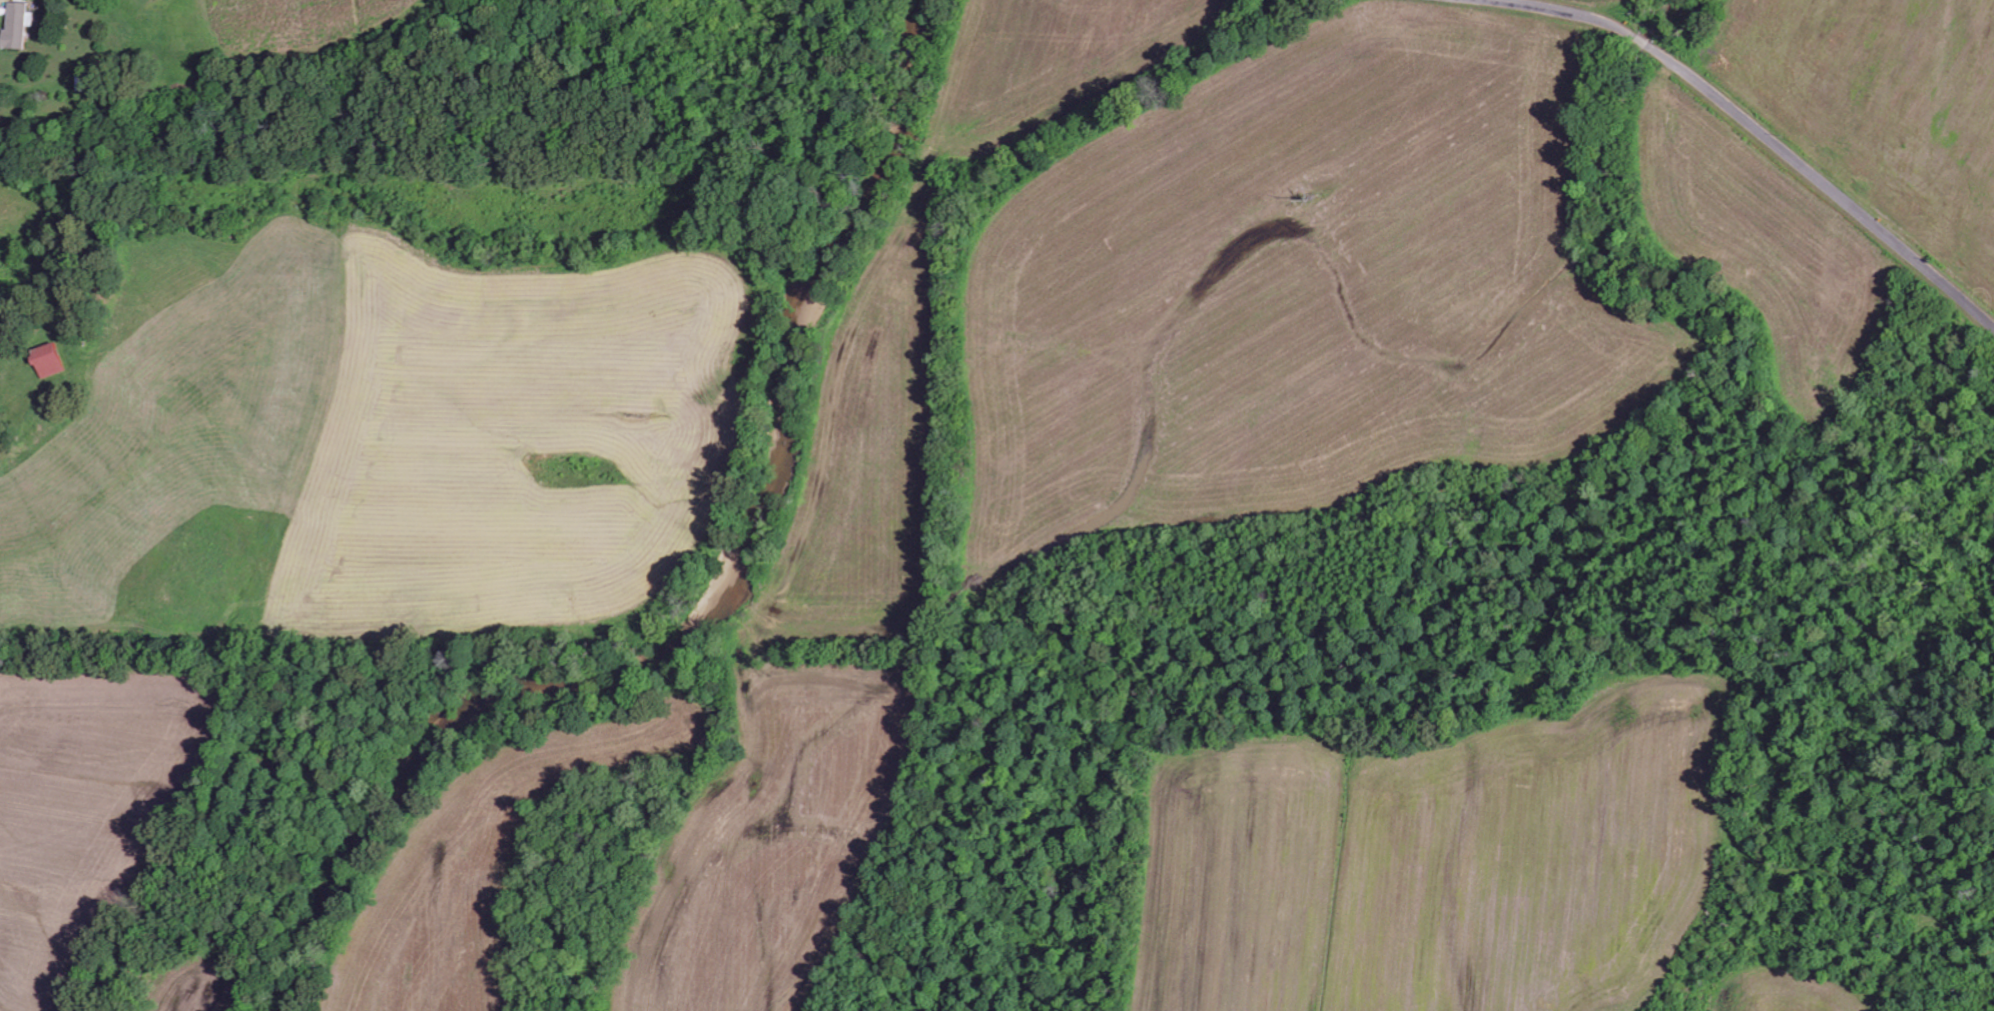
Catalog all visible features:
building: (22, 24)
road: (1751, 127)
building: (54, 359)

